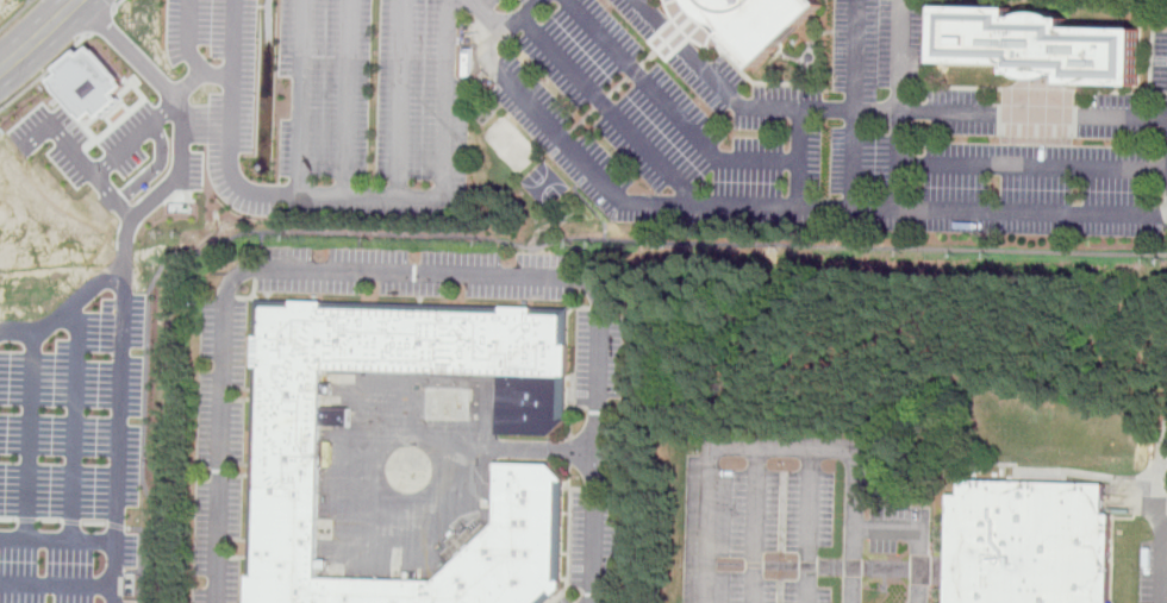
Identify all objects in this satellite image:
road: (532, 1)
road: (118, 4)
road: (15, 14)
road: (483, 15)
road: (100, 21)
building: (756, 23)
road: (507, 25)
road: (40, 38)
building: (1041, 46)
road: (191, 52)
road: (143, 62)
road: (44, 74)
building: (91, 83)
road: (624, 84)
road: (345, 98)
road: (399, 99)
road: (855, 103)
road: (899, 103)
road: (607, 108)
road: (670, 108)
road: (879, 109)
parking lot: (643, 119)
road: (231, 125)
road: (89, 132)
parking lot: (120, 144)
park: (510, 144)
road: (798, 157)
road: (1032, 164)
road: (156, 168)
parking lot: (192, 170)
road: (98, 171)
road: (162, 193)
road: (113, 196)
road: (374, 196)
road: (586, 202)
road: (790, 206)
road: (488, 239)
road: (406, 272)
parking lot: (414, 272)
road: (68, 310)
parking lot: (598, 357)
road: (76, 421)
parking lot: (77, 426)
road: (30, 435)
road: (119, 447)
building: (283, 447)
parking lot: (219, 451)
road: (544, 451)
road: (856, 452)
road: (1162, 520)
road: (707, 523)
road: (756, 525)
road: (810, 526)
parking lot: (898, 526)
road: (922, 532)
parking lot: (756, 533)
road: (57, 540)
parking lot: (593, 542)
building: (1029, 542)
road: (826, 565)
parking lot: (46, 566)
parking lot: (1154, 572)
road: (57, 588)
parking lot: (563, 601)

